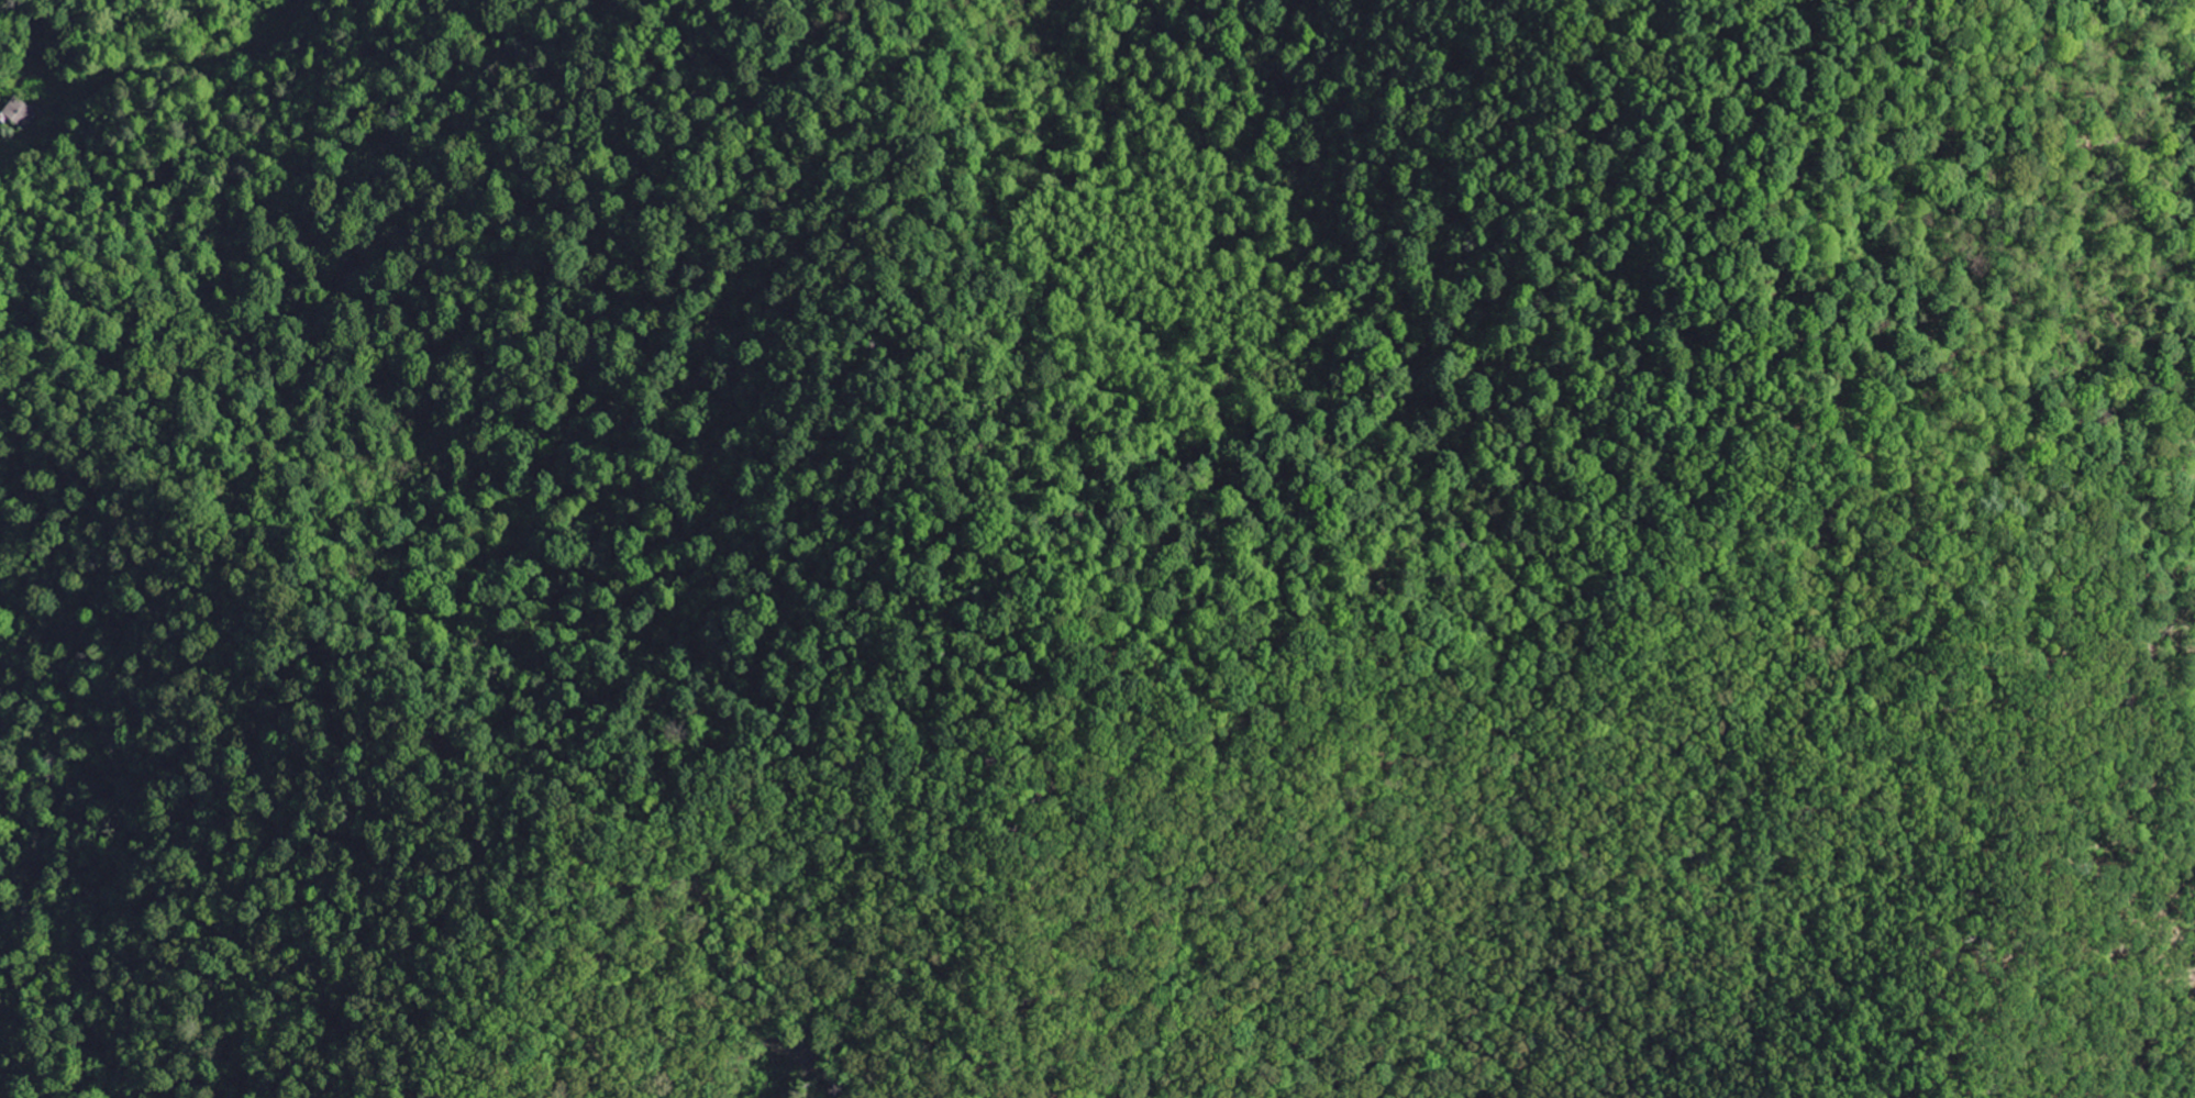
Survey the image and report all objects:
road: (152, 69)

